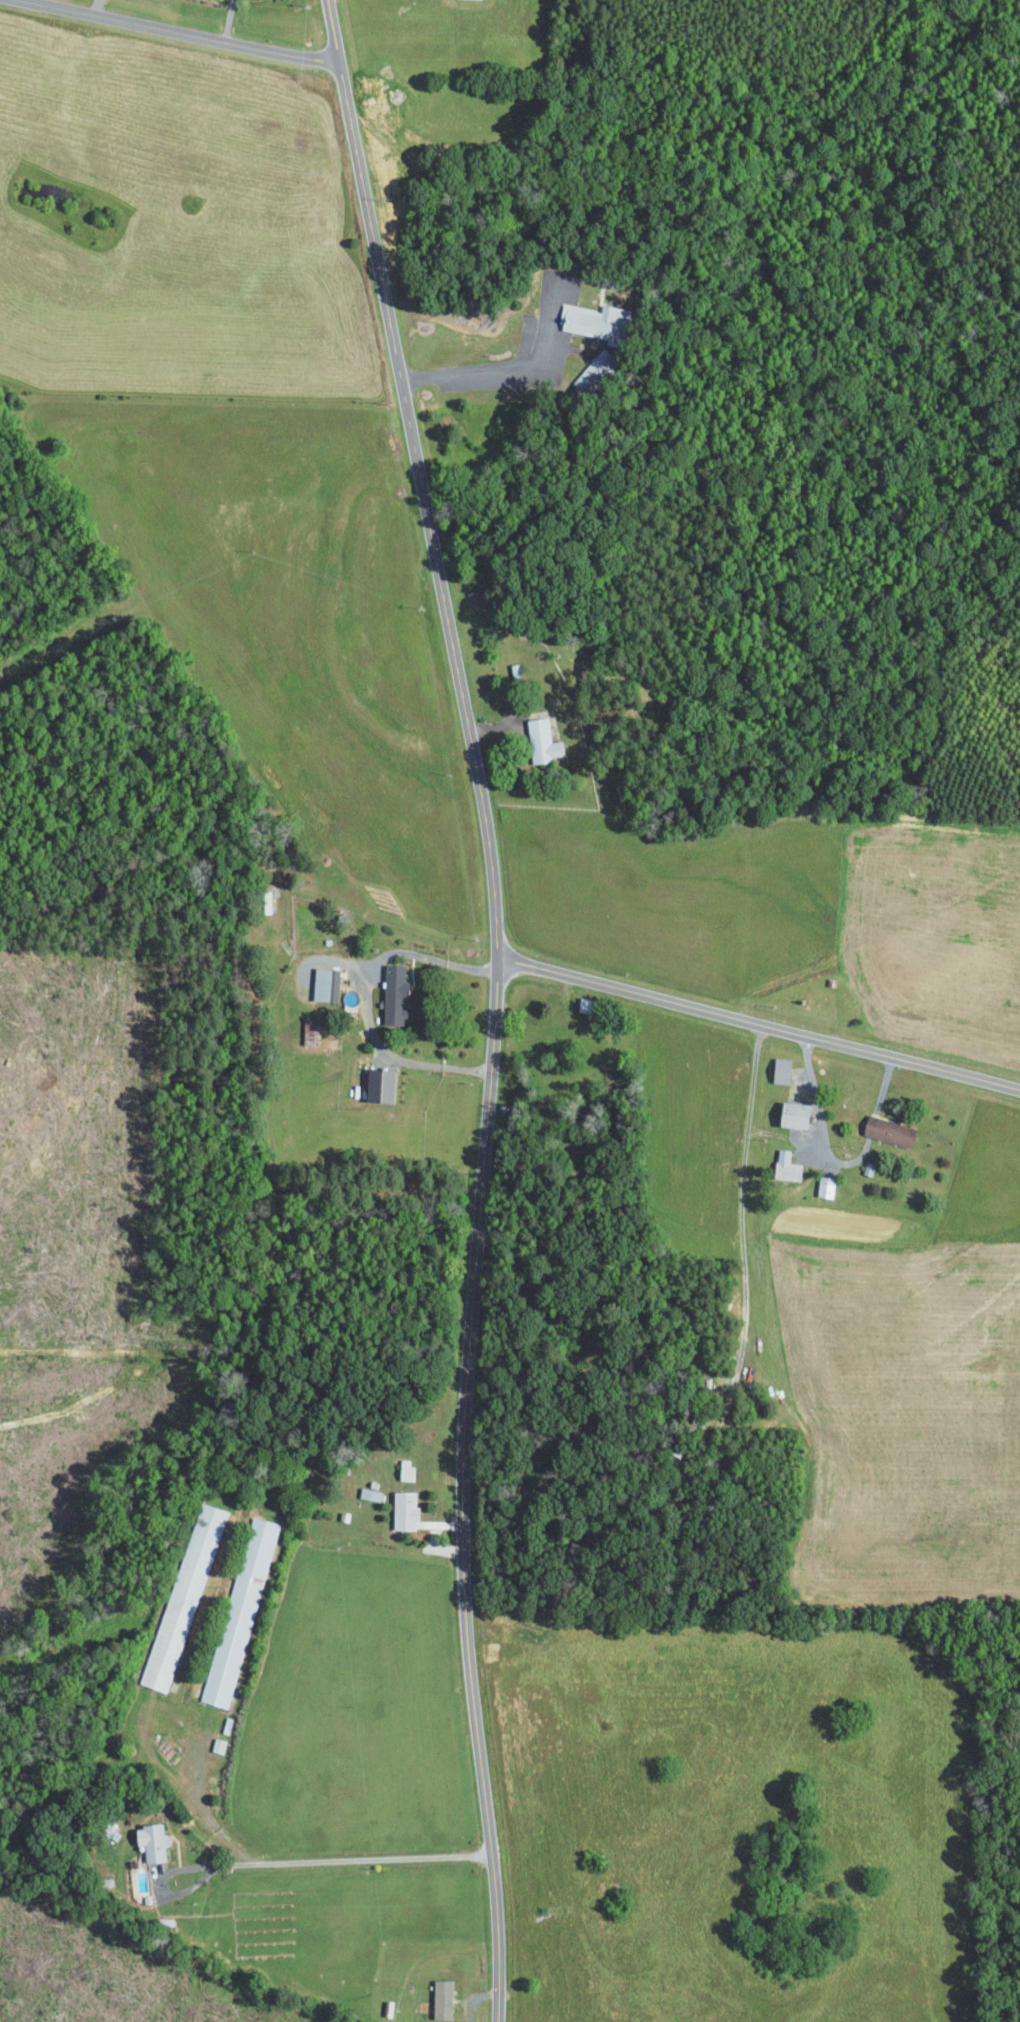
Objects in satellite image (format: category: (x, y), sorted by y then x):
road: (174, 32)
building: (594, 321)
road: (507, 368)
building: (593, 373)
building: (542, 742)
road: (350, 961)
building: (325, 983)
building: (393, 993)
road: (366, 998)
road: (493, 1004)
road: (758, 1028)
building: (309, 1036)
building: (780, 1069)
building: (378, 1084)
building: (793, 1114)
building: (887, 1130)
road: (814, 1139)
road: (835, 1161)
building: (785, 1166)
building: (825, 1186)
building: (405, 1469)
building: (369, 1494)
building: (404, 1510)
building: (183, 1597)
building: (239, 1612)
building: (217, 1745)
building: (151, 1842)
road: (285, 1861)
building: (441, 1999)

